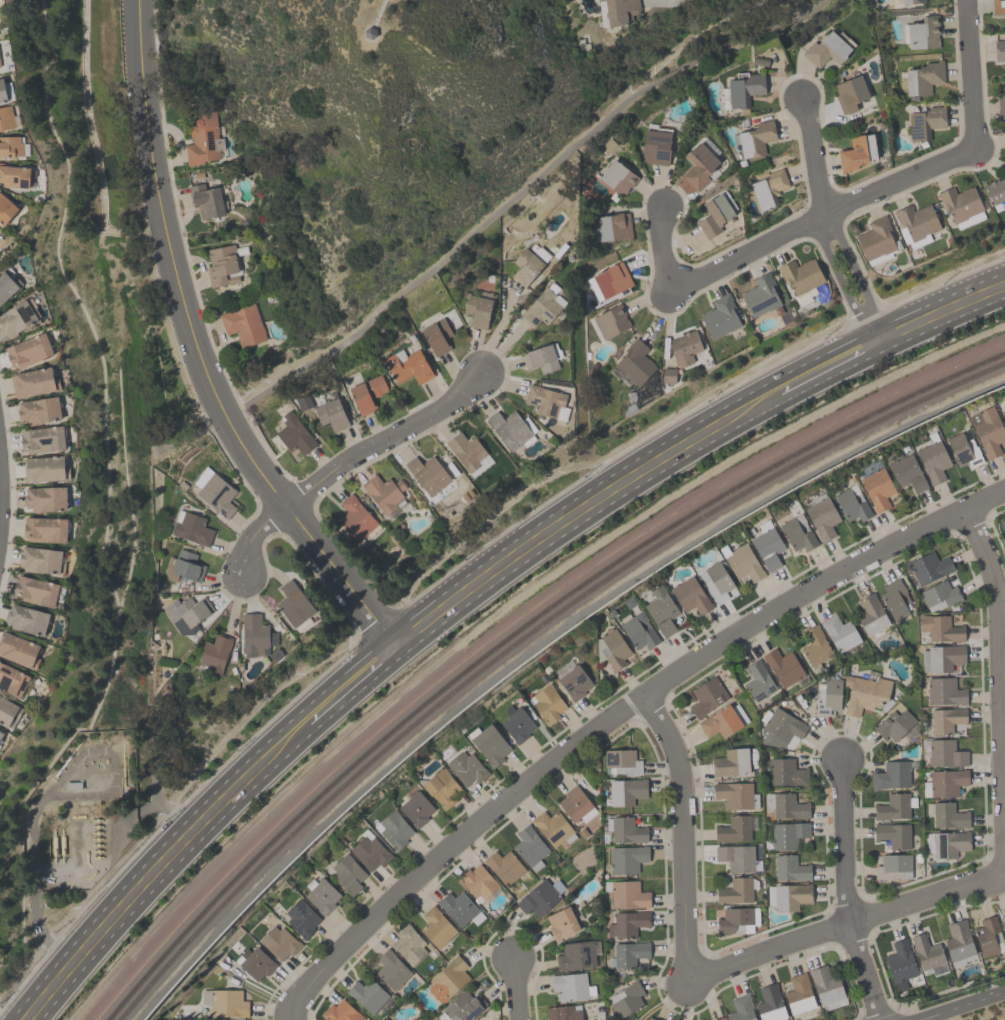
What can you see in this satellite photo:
road: (668, 0)
building: (912, 1)
building: (998, 6)
building: (620, 11)
building: (923, 33)
road: (679, 50)
building: (826, 50)
building: (999, 50)
building: (923, 77)
building: (744, 88)
building: (2, 90)
building: (849, 93)
building: (1000, 102)
building: (6, 117)
building: (925, 122)
building: (755, 138)
building: (202, 139)
building: (10, 144)
road: (93, 146)
building: (655, 146)
road: (966, 150)
building: (856, 152)
road: (813, 154)
building: (698, 166)
building: (15, 175)
building: (617, 177)
building: (767, 187)
road: (515, 192)
building: (996, 193)
building: (206, 200)
building: (962, 205)
building: (6, 208)
building: (714, 215)
road: (825, 221)
building: (916, 224)
building: (613, 226)
building: (876, 241)
building: (221, 264)
building: (528, 264)
road: (706, 272)
building: (801, 278)
building: (609, 280)
road: (863, 284)
building: (8, 285)
road: (846, 291)
building: (760, 295)
building: (543, 306)
building: (477, 310)
building: (720, 316)
building: (16, 318)
road: (948, 320)
building: (611, 321)
building: (243, 324)
road: (498, 330)
building: (437, 336)
building: (684, 347)
building: (29, 351)
road: (199, 355)
building: (540, 358)
building: (635, 362)
building: (407, 365)
building: (34, 382)
road: (819, 382)
building: (367, 393)
building: (546, 401)
building: (39, 410)
building: (331, 413)
building: (1003, 414)
building: (509, 428)
building: (988, 430)
building: (294, 433)
building: (43, 438)
building: (963, 448)
building: (466, 450)
building: (933, 461)
road: (345, 462)
building: (45, 468)
building: (907, 472)
building: (427, 474)
building: (877, 488)
building: (383, 491)
building: (217, 494)
building: (46, 498)
building: (852, 504)
building: (355, 517)
building: (822, 517)
building: (191, 527)
building: (46, 529)
road: (569, 529)
building: (798, 533)
building: (767, 545)
building: (40, 559)
building: (742, 561)
building: (182, 566)
building: (928, 567)
building: (715, 580)
road: (458, 581)
building: (36, 590)
building: (690, 595)
building: (939, 595)
building: (895, 598)
building: (294, 606)
building: (661, 611)
building: (186, 614)
building: (871, 615)
building: (27, 619)
railway: (510, 627)
building: (940, 628)
building: (638, 630)
railway: (515, 631)
building: (839, 632)
building: (256, 636)
railway: (522, 636)
building: (815, 645)
building: (612, 649)
building: (20, 650)
building: (214, 653)
building: (941, 657)
road: (1000, 661)
building: (782, 666)
building: (13, 680)
building: (758, 680)
building: (574, 682)
building: (944, 691)
building: (866, 693)
building: (707, 696)
building: (827, 696)
road: (346, 701)
building: (547, 703)
building: (8, 711)
road: (616, 715)
building: (723, 720)
building: (945, 720)
building: (516, 723)
building: (893, 724)
building: (780, 728)
building: (1, 733)
building: (0, 740)
building: (488, 744)
building: (944, 752)
building: (621, 761)
building: (731, 762)
building: (466, 768)
building: (786, 772)
building: (891, 775)
building: (945, 782)
building: (442, 788)
building: (626, 791)
building: (735, 795)
building: (576, 805)
building: (786, 805)
building: (893, 806)
building: (416, 809)
building: (946, 814)
building: (553, 827)
building: (625, 829)
building: (733, 829)
building: (393, 830)
road: (683, 834)
building: (787, 834)
building: (893, 834)
building: (949, 843)
building: (530, 847)
building: (369, 851)
building: (626, 858)
building: (737, 858)
building: (892, 866)
building: (506, 868)
building: (789, 868)
building: (348, 873)
road: (160, 880)
building: (477, 882)
building: (735, 891)
road: (846, 891)
building: (626, 894)
building: (322, 896)
building: (791, 896)
building: (540, 897)
building: (460, 909)
building: (301, 918)
building: (737, 920)
building: (1002, 920)
building: (561, 923)
building: (627, 923)
road: (849, 923)
building: (436, 927)
building: (989, 936)
building: (958, 940)
building: (279, 942)
building: (408, 944)
building: (926, 952)
building: (629, 954)
building: (575, 955)
building: (256, 963)
building: (900, 963)
building: (391, 970)
building: (448, 979)
building: (572, 986)
road: (515, 987)
building: (826, 988)
building: (367, 994)
building: (799, 994)
building: (626, 1000)
building: (225, 1002)
building: (770, 1003)
building: (463, 1006)
road: (965, 1006)
building: (741, 1008)
building: (340, 1011)
building: (563, 1012)
building: (381, 1019)
building: (640, 1019)
building: (650, 1019)
building: (719, 1019)

